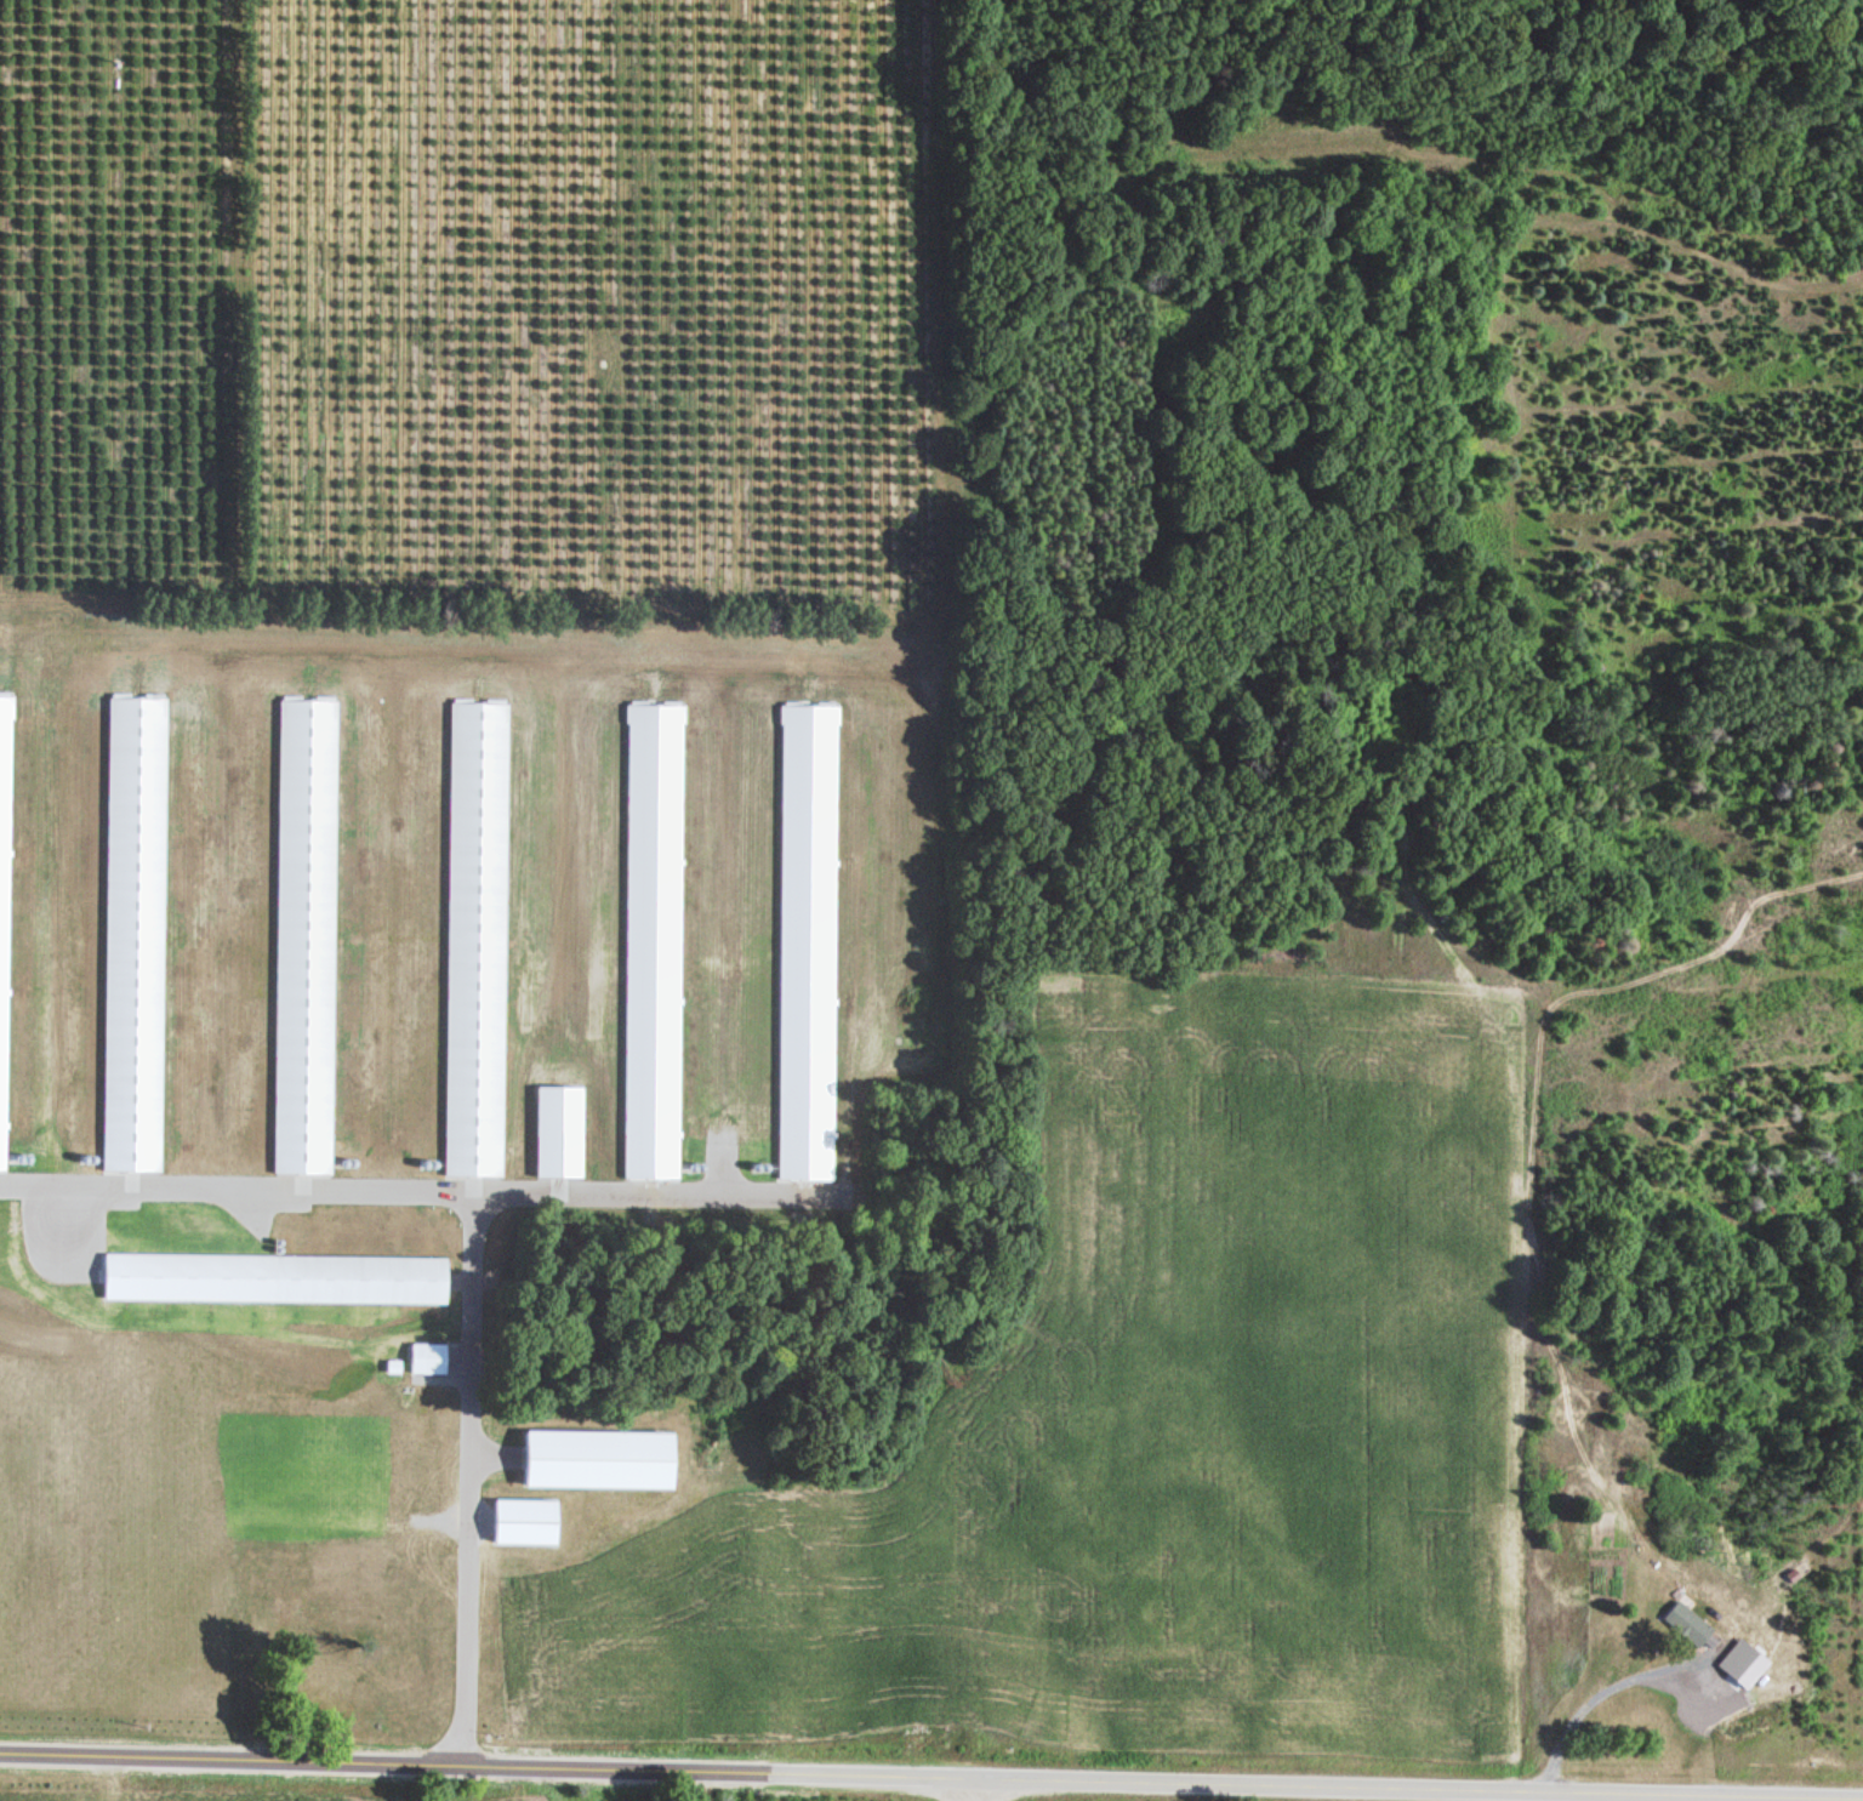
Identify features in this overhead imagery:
building: (1686, 1626)
road: (928, 1779)
road: (976, 1791)

